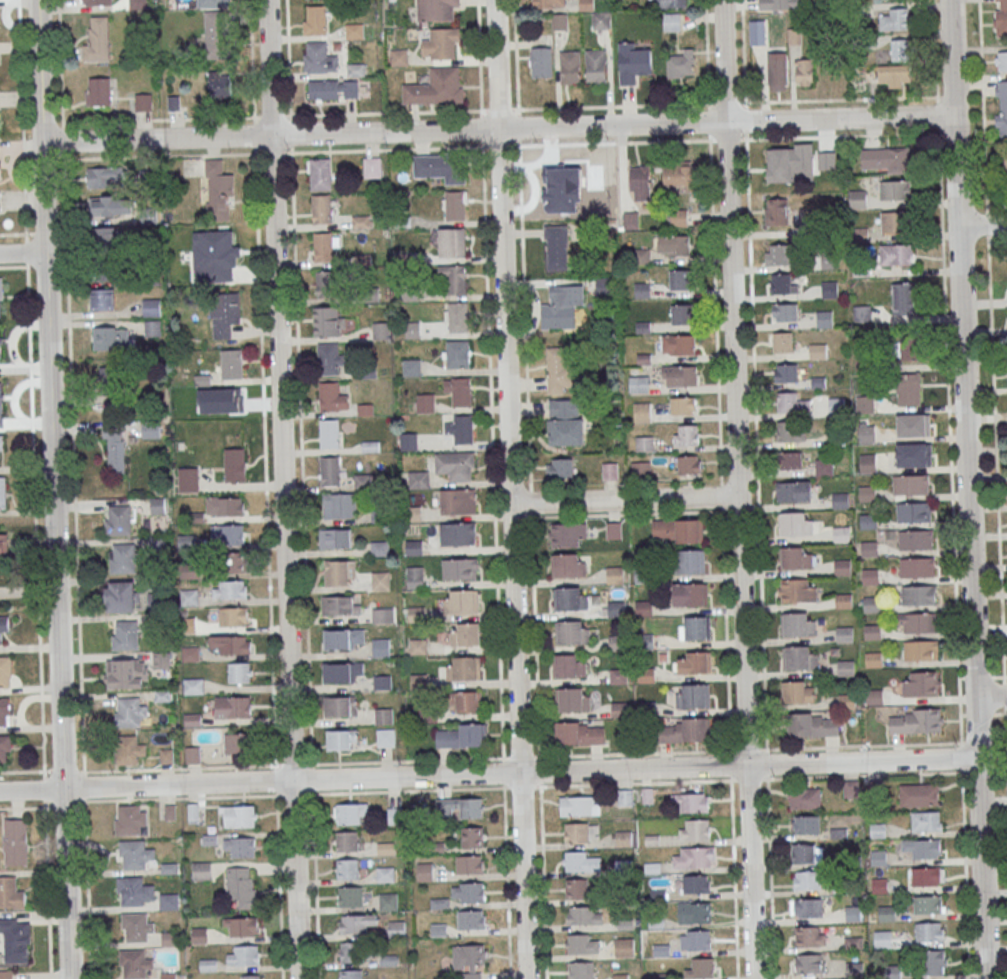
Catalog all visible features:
building: (96, 2)
building: (213, 3)
building: (549, 3)
building: (671, 3)
building: (780, 4)
building: (438, 10)
building: (1000, 18)
building: (600, 19)
building: (894, 19)
building: (314, 20)
building: (672, 21)
building: (354, 30)
building: (216, 34)
building: (97, 39)
building: (441, 44)
building: (900, 49)
road: (934, 50)
road: (706, 53)
road: (479, 54)
road: (517, 54)
road: (288, 57)
building: (399, 57)
building: (319, 58)
building: (1001, 60)
building: (541, 61)
building: (633, 62)
building: (682, 64)
building: (595, 65)
building: (569, 67)
building: (777, 71)
building: (804, 71)
road: (253, 76)
building: (893, 76)
road: (60, 79)
building: (221, 83)
building: (436, 87)
building: (333, 89)
building: (98, 91)
road: (947, 95)
road: (790, 100)
building: (143, 101)
road: (726, 102)
road: (744, 102)
road: (612, 106)
road: (983, 106)
building: (1001, 108)
road: (498, 109)
road: (384, 111)
road: (936, 114)
road: (21, 116)
road: (744, 120)
road: (708, 121)
road: (498, 129)
road: (948, 132)
road: (290, 133)
road: (841, 135)
road: (727, 138)
road: (609, 142)
road: (497, 147)
road: (290, 149)
road: (273, 152)
building: (827, 160)
building: (885, 160)
building: (789, 163)
building: (372, 167)
building: (441, 167)
building: (1005, 168)
building: (320, 173)
building: (105, 176)
building: (679, 176)
building: (641, 182)
building: (556, 183)
building: (895, 189)
building: (219, 190)
building: (858, 199)
building: (1, 201)
building: (456, 204)
building: (105, 205)
road: (997, 205)
building: (321, 208)
building: (784, 211)
building: (679, 217)
building: (631, 220)
building: (891, 221)
road: (988, 224)
road: (982, 225)
road: (32, 232)
building: (860, 234)
building: (107, 236)
building: (452, 242)
road: (997, 242)
building: (674, 244)
building: (325, 245)
building: (556, 247)
road: (22, 253)
building: (897, 253)
building: (781, 254)
building: (225, 255)
building: (829, 259)
building: (861, 268)
building: (105, 270)
building: (455, 277)
building: (679, 280)
building: (326, 283)
building: (783, 283)
building: (830, 289)
building: (1, 297)
building: (904, 297)
building: (102, 299)
building: (562, 302)
building: (151, 307)
road: (714, 309)
building: (785, 311)
building: (224, 313)
road: (523, 313)
building: (682, 313)
building: (862, 314)
building: (458, 318)
building: (825, 319)
building: (328, 321)
building: (152, 328)
building: (381, 330)
building: (113, 338)
building: (782, 341)
building: (678, 344)
building: (0, 347)
building: (906, 348)
building: (818, 350)
building: (457, 354)
building: (330, 358)
road: (297, 361)
building: (231, 362)
road: (262, 363)
building: (866, 364)
building: (411, 367)
building: (559, 369)
building: (785, 372)
building: (679, 375)
building: (638, 384)
building: (908, 388)
building: (459, 390)
building: (116, 392)
building: (332, 397)
building: (2, 400)
building: (425, 402)
building: (791, 403)
building: (865, 404)
building: (682, 405)
building: (837, 407)
building: (641, 411)
building: (565, 422)
building: (914, 424)
building: (461, 428)
building: (790, 430)
road: (493, 432)
building: (329, 433)
building: (867, 433)
road: (948, 434)
building: (686, 435)
road: (755, 442)
building: (1, 450)
building: (914, 454)
building: (116, 456)
building: (789, 459)
road: (995, 459)
building: (867, 461)
building: (689, 464)
road: (72, 465)
building: (235, 465)
building: (455, 465)
building: (590, 465)
building: (824, 466)
building: (559, 467)
building: (329, 470)
building: (188, 479)
building: (418, 479)
building: (361, 481)
building: (910, 484)
road: (52, 489)
road: (282, 489)
road: (510, 489)
road: (737, 489)
road: (967, 489)
building: (794, 490)
building: (3, 493)
building: (867, 493)
road: (720, 496)
building: (841, 500)
road: (35, 501)
building: (457, 501)
road: (624, 501)
building: (225, 505)
building: (339, 505)
building: (914, 512)
road: (627, 513)
building: (118, 519)
building: (869, 521)
building: (796, 524)
building: (613, 530)
building: (677, 530)
building: (228, 533)
building: (457, 533)
building: (568, 534)
building: (841, 534)
building: (335, 538)
building: (915, 540)
building: (186, 541)
building: (3, 545)
building: (379, 548)
building: (869, 548)
building: (125, 557)
building: (795, 557)
building: (235, 561)
building: (690, 561)
building: (568, 564)
building: (843, 567)
building: (460, 568)
building: (917, 568)
building: (190, 570)
building: (339, 573)
building: (614, 574)
building: (870, 576)
building: (414, 577)
building: (380, 580)
building: (229, 589)
building: (797, 590)
building: (689, 594)
building: (918, 595)
building: (122, 596)
building: (189, 597)
building: (570, 598)
building: (461, 601)
building: (844, 601)
building: (872, 604)
building: (333, 605)
building: (643, 608)
building: (615, 609)
building: (233, 616)
building: (920, 622)
building: (797, 624)
building: (693, 628)
building: (2, 630)
road: (725, 630)
building: (872, 631)
building: (571, 632)
building: (465, 634)
building: (845, 634)
building: (125, 635)
road: (535, 637)
building: (345, 638)
building: (647, 641)
building: (617, 642)
building: (230, 644)
building: (417, 646)
building: (381, 647)
building: (920, 650)
building: (799, 657)
building: (874, 659)
building: (162, 660)
building: (693, 662)
building: (569, 665)
building: (464, 668)
building: (846, 668)
building: (6, 672)
building: (240, 672)
building: (343, 672)
building: (125, 673)
road: (959, 677)
road: (976, 677)
road: (997, 677)
building: (382, 682)
building: (920, 683)
building: (193, 686)
building: (798, 691)
building: (692, 695)
road: (1004, 695)
road: (990, 696)
building: (875, 697)
building: (573, 699)
building: (465, 701)
building: (847, 701)
building: (340, 705)
building: (233, 706)
building: (5, 710)
building: (130, 712)
road: (978, 713)
road: (999, 713)
road: (961, 714)
building: (384, 716)
building: (192, 720)
building: (915, 721)
building: (814, 724)
building: (685, 730)
building: (578, 733)
building: (460, 735)
building: (385, 737)
road: (1005, 738)
building: (341, 739)
building: (236, 742)
road: (860, 746)
building: (5, 747)
building: (128, 749)
road: (746, 749)
road: (729, 751)
road: (634, 753)
building: (193, 754)
road: (520, 756)
road: (539, 757)
road: (962, 757)
road: (502, 758)
road: (406, 759)
road: (293, 763)
road: (766, 763)
road: (730, 764)
road: (178, 767)
road: (24, 770)
road: (63, 770)
road: (539, 770)
road: (502, 771)
road: (43, 773)
road: (489, 774)
road: (862, 775)
road: (311, 778)
road: (748, 778)
road: (275, 779)
road: (635, 782)
road: (83, 785)
road: (521, 786)
building: (851, 788)
road: (43, 789)
road: (406, 790)
road: (275, 793)
road: (293, 794)
building: (919, 794)
road: (181, 797)
building: (624, 797)
building: (804, 798)
road: (65, 802)
building: (694, 802)
building: (579, 805)
road: (24, 806)
building: (192, 808)
building: (460, 808)
building: (351, 813)
building: (395, 815)
building: (240, 816)
building: (131, 819)
building: (926, 821)
building: (807, 824)
building: (694, 829)
building: (581, 832)
building: (472, 836)
building: (623, 838)
building: (15, 841)
building: (347, 841)
building: (239, 847)
building: (386, 847)
building: (923, 848)
building: (807, 853)
building: (136, 854)
building: (694, 857)
building: (582, 861)
building: (469, 864)
building: (347, 868)
building: (202, 870)
building: (424, 872)
building: (385, 874)
building: (928, 875)
road: (964, 875)
road: (733, 877)
road: (770, 877)
building: (808, 880)
road: (506, 881)
road: (542, 881)
building: (696, 883)
road: (315, 885)
building: (242, 886)
road: (278, 887)
road: (86, 888)
building: (576, 888)
road: (46, 890)
building: (134, 890)
building: (468, 892)
building: (11, 893)
building: (351, 896)
building: (169, 900)
building: (388, 901)
building: (928, 904)
building: (806, 907)
building: (694, 912)
building: (853, 913)
building: (584, 914)
building: (471, 919)
building: (357, 922)
building: (137, 926)
building: (240, 926)
building: (396, 927)
building: (929, 931)
building: (810, 936)
building: (169, 938)
building: (883, 938)
building: (15, 939)
building: (695, 940)
building: (580, 944)
building: (624, 947)
building: (661, 950)
building: (350, 951)
building: (243, 955)
building: (474, 960)
building: (935, 962)
building: (135, 963)
building: (810, 963)
building: (700, 968)
building: (580, 970)
building: (6, 974)
building: (352, 974)
building: (251, 977)

